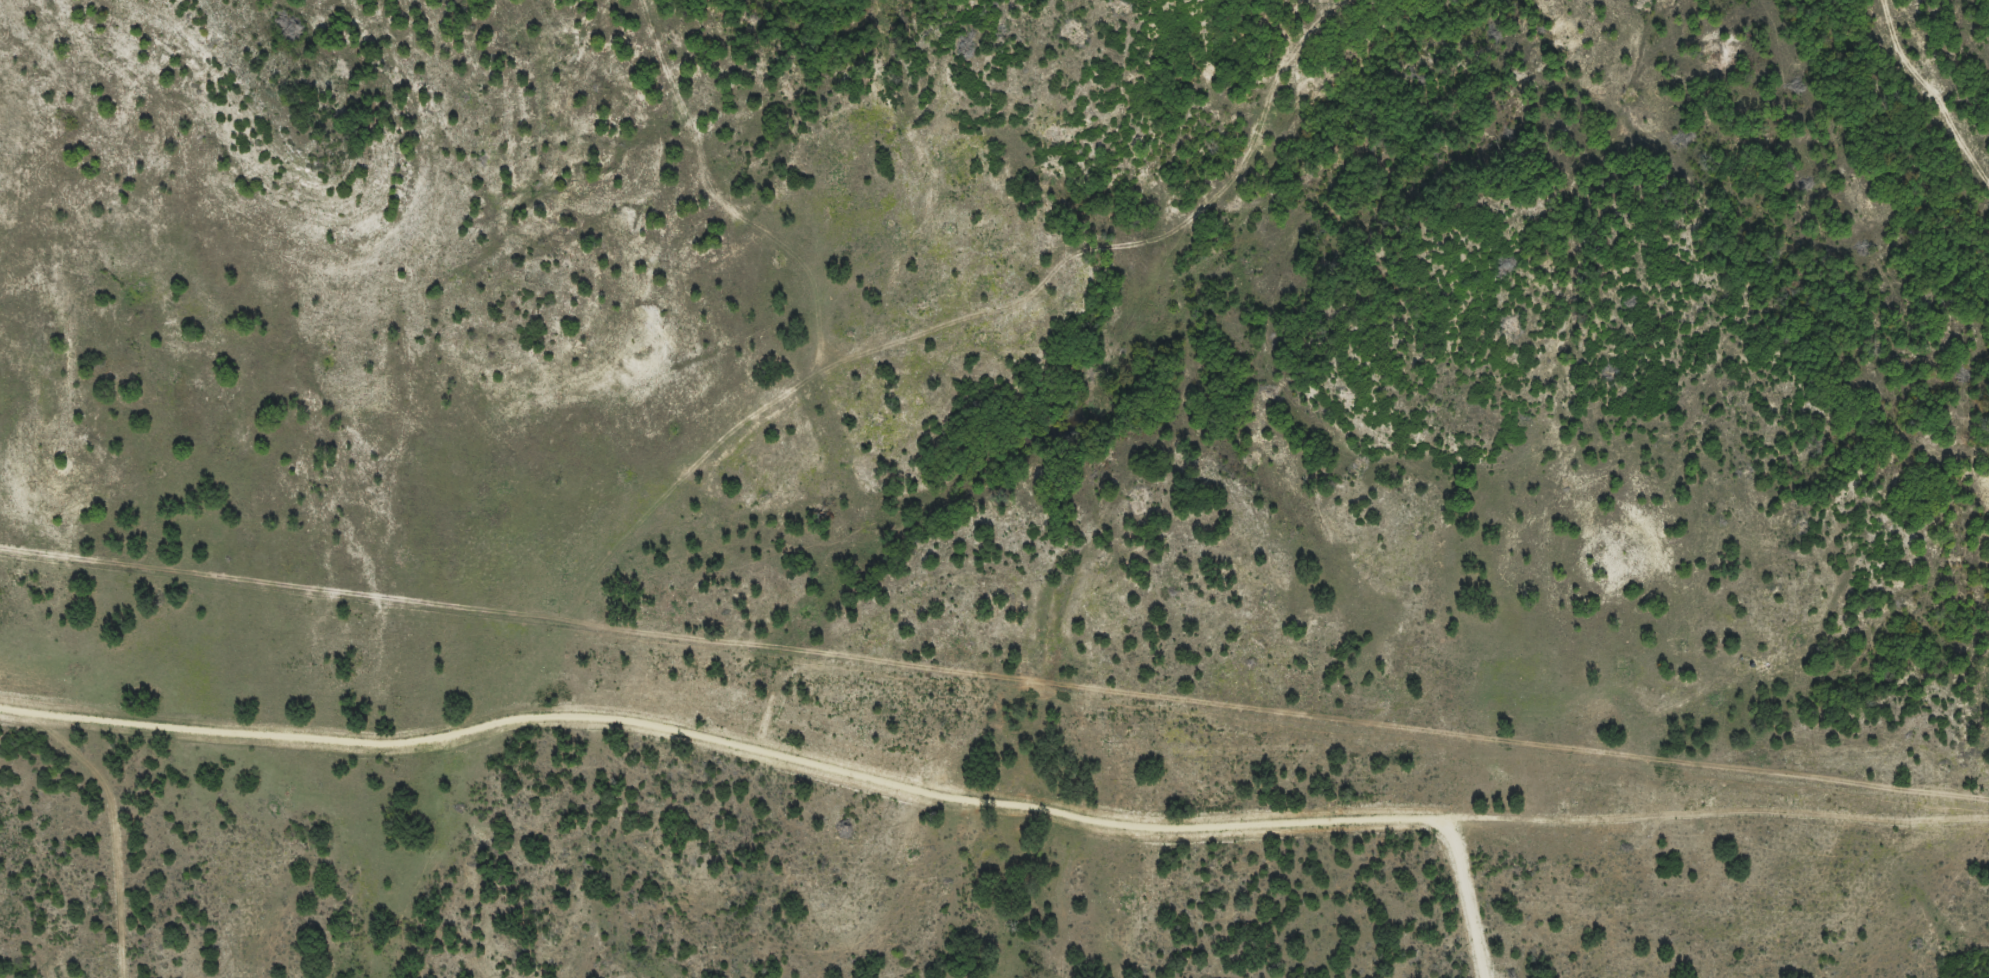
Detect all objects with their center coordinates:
road: (203, 788)
road: (137, 874)

